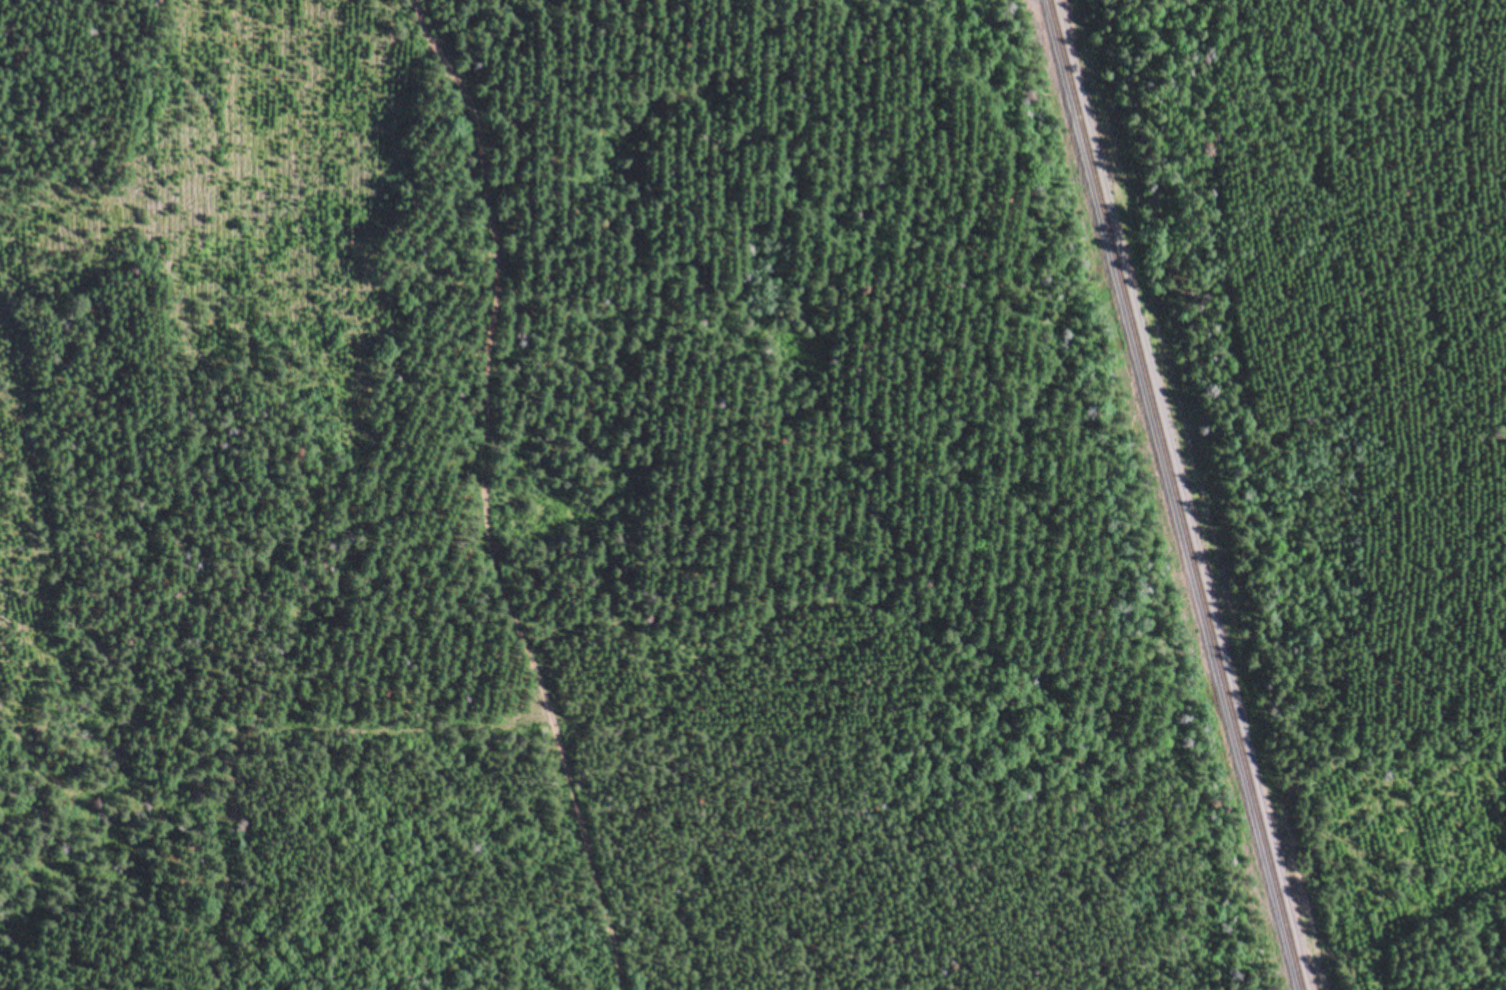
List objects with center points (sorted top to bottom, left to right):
road: (1101, 112)
road: (483, 495)
railway: (1178, 495)

